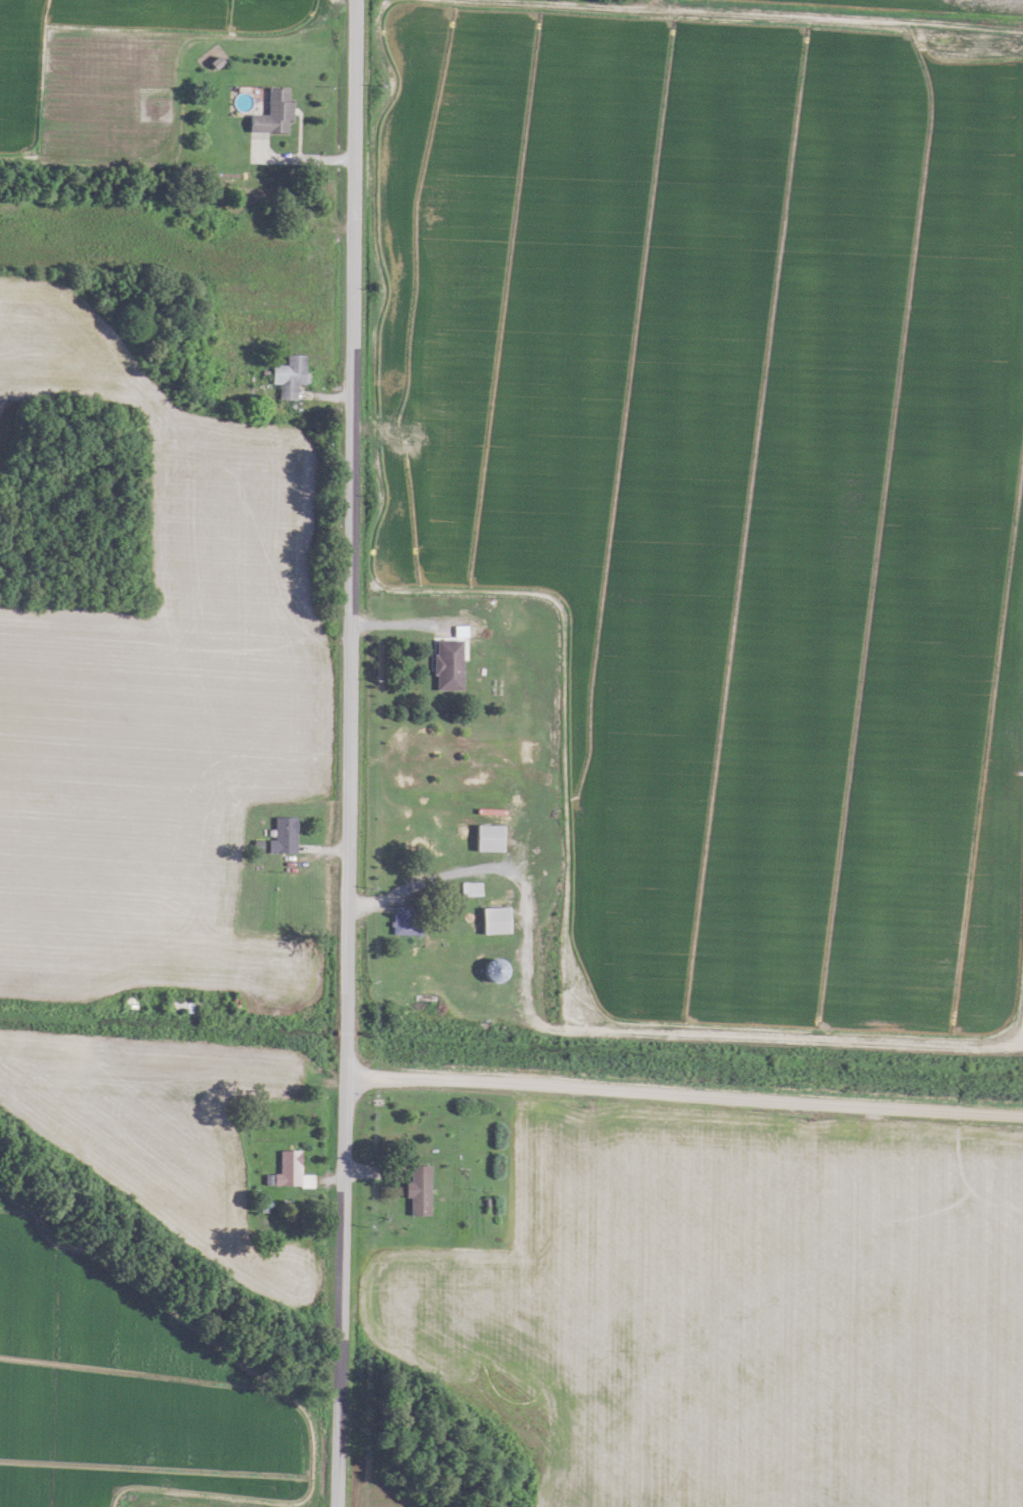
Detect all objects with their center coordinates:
building: (269, 114)
building: (285, 376)
building: (443, 664)
road: (347, 753)
building: (279, 835)
building: (483, 837)
road: (432, 877)
building: (489, 920)
building: (400, 921)
building: (490, 970)
building: (126, 999)
road: (684, 1095)
building: (284, 1169)
building: (415, 1189)

